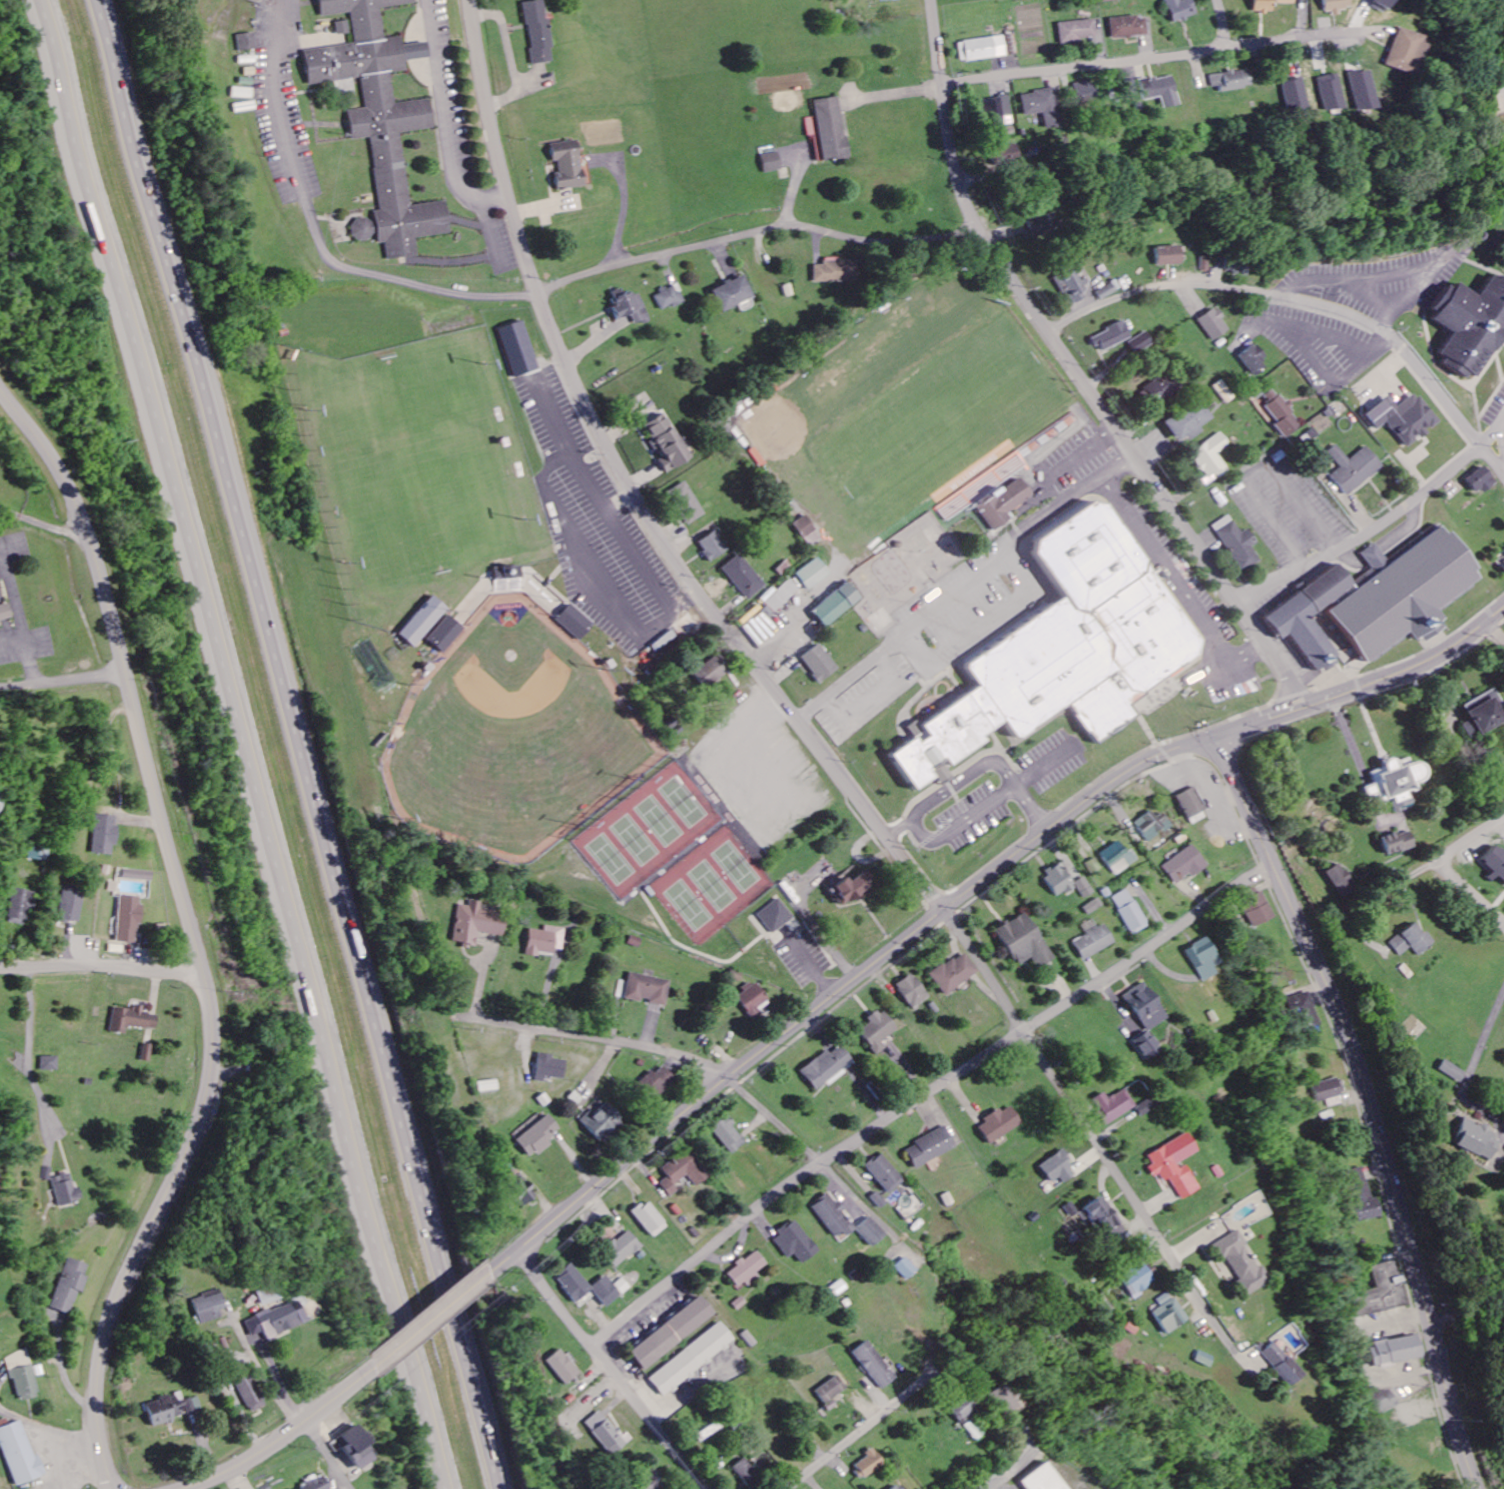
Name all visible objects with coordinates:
building: (884, 0)
building: (1108, 0)
building: (1270, 5)
building: (1337, 6)
building: (1181, 9)
road: (1224, 24)
building: (1129, 26)
building: (538, 31)
building: (1078, 31)
road: (1292, 40)
building: (249, 41)
building: (982, 49)
building: (1402, 51)
road: (1086, 66)
building: (1232, 80)
building: (1160, 90)
building: (1360, 91)
building: (1084, 92)
building: (1294, 92)
building: (245, 93)
road: (901, 93)
building: (1329, 93)
building: (1042, 106)
building: (996, 108)
building: (382, 121)
building: (830, 129)
building: (773, 162)
building: (568, 165)
building: (1043, 226)
road: (758, 232)
road: (319, 235)
building: (1167, 255)
building: (1203, 264)
building: (1236, 265)
building: (838, 271)
parking lot: (1380, 282)
building: (1071, 285)
road: (1352, 291)
building: (1106, 292)
building: (735, 293)
building: (671, 297)
road: (1308, 301)
building: (632, 307)
building: (1213, 325)
building: (1470, 325)
building: (1111, 337)
building: (1141, 343)
building: (1253, 360)
road: (1080, 371)
building: (1163, 387)
building: (1223, 392)
building: (1280, 413)
building: (1401, 418)
building: (1189, 422)
park: (940, 423)
building: (1299, 439)
building: (667, 443)
building: (1212, 456)
park: (419, 459)
building: (1352, 468)
building: (1481, 480)
road: (633, 492)
building: (689, 503)
building: (1005, 504)
parking lot: (1290, 512)
road: (41, 524)
road: (1384, 526)
building: (808, 531)
road: (1012, 540)
building: (1240, 544)
building: (714, 546)
road: (1153, 553)
building: (1502, 557)
building: (813, 573)
building: (745, 577)
building: (509, 579)
building: (783, 595)
building: (1375, 600)
building: (836, 605)
parking lot: (14, 611)
building: (4, 613)
road: (15, 622)
building: (424, 622)
building: (576, 622)
building: (448, 634)
road: (9, 640)
building: (1067, 649)
building: (819, 663)
building: (712, 672)
road: (855, 672)
road: (62, 681)
road: (1369, 688)
building: (1483, 715)
park: (518, 739)
road: (252, 744)
road: (295, 744)
road: (971, 772)
building: (1397, 783)
road: (972, 811)
building: (1150, 825)
road: (917, 830)
building: (104, 835)
building: (1399, 843)
building: (1118, 858)
building: (1496, 861)
building: (1185, 865)
road: (1450, 866)
park: (698, 873)
building: (138, 876)
road: (1416, 876)
building: (1061, 880)
building: (1342, 881)
building: (1085, 888)
building: (852, 891)
building: (70, 905)
building: (19, 906)
building: (1257, 907)
building: (1129, 912)
building: (777, 916)
building: (130, 919)
building: (477, 923)
road: (192, 931)
building: (1412, 941)
building: (547, 942)
building: (1025, 942)
building: (1094, 943)
building: (1203, 959)
road: (102, 966)
road: (986, 970)
building: (956, 974)
building: (650, 989)
road: (844, 989)
building: (913, 992)
building: (753, 999)
building: (1146, 1007)
building: (1306, 1011)
building: (133, 1020)
building: (878, 1032)
road: (599, 1038)
road: (1480, 1040)
building: (1148, 1046)
building: (148, 1052)
building: (51, 1064)
building: (551, 1068)
building: (826, 1069)
building: (1450, 1071)
building: (659, 1082)
building: (487, 1087)
building: (1326, 1090)
road: (924, 1096)
road: (1370, 1105)
building: (1115, 1107)
building: (1148, 1107)
road: (774, 1121)
building: (603, 1123)
building: (1000, 1125)
building: (729, 1135)
building: (535, 1136)
building: (1473, 1139)
building: (930, 1148)
building: (1175, 1166)
building: (1058, 1168)
building: (683, 1173)
building: (883, 1174)
building: (518, 1189)
building: (66, 1191)
road: (1129, 1194)
building: (1361, 1196)
road: (858, 1201)
building: (1069, 1210)
building: (834, 1218)
building: (650, 1220)
building: (1104, 1221)
building: (871, 1232)
building: (796, 1243)
building: (622, 1249)
building: (1241, 1262)
building: (906, 1269)
building: (749, 1270)
building: (573, 1282)
building: (1135, 1282)
building: (69, 1286)
building: (610, 1290)
building: (1379, 1292)
building: (209, 1305)
building: (1166, 1314)
building: (275, 1320)
road: (429, 1320)
building: (672, 1332)
building: (751, 1339)
building: (1398, 1351)
building: (693, 1359)
building: (1200, 1360)
building: (875, 1364)
building: (1280, 1365)
building: (562, 1366)
road: (608, 1370)
building: (25, 1383)
building: (832, 1389)
building: (250, 1392)
building: (1005, 1399)
building: (1381, 1402)
building: (171, 1408)
building: (967, 1415)
road: (861, 1431)
building: (606, 1433)
road: (283, 1435)
building: (355, 1447)
road: (327, 1453)
building: (20, 1454)
building: (869, 1464)
building: (747, 1474)
building: (1044, 1478)
building: (647, 1482)
building: (316, 1483)
building: (898, 1486)

